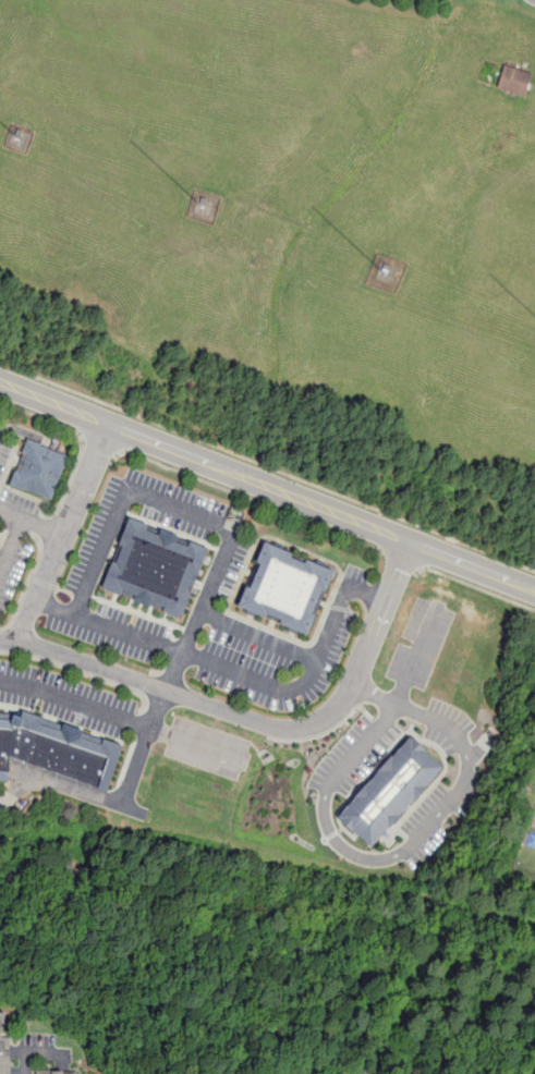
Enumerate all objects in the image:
building: (514, 82)
road: (82, 440)
road: (100, 443)
road: (267, 467)
building: (44, 471)
road: (267, 485)
road: (248, 497)
road: (181, 510)
road: (32, 522)
road: (64, 536)
road: (12, 547)
road: (402, 559)
building: (153, 569)
road: (474, 585)
building: (285, 590)
road: (110, 627)
road: (260, 637)
road: (416, 655)
road: (311, 676)
road: (76, 704)
road: (257, 722)
road: (151, 730)
road: (199, 747)
building: (58, 754)
road: (70, 788)
building: (390, 791)
road: (413, 847)
building: (5, 1039)
road: (38, 1053)
building: (76, 1072)

